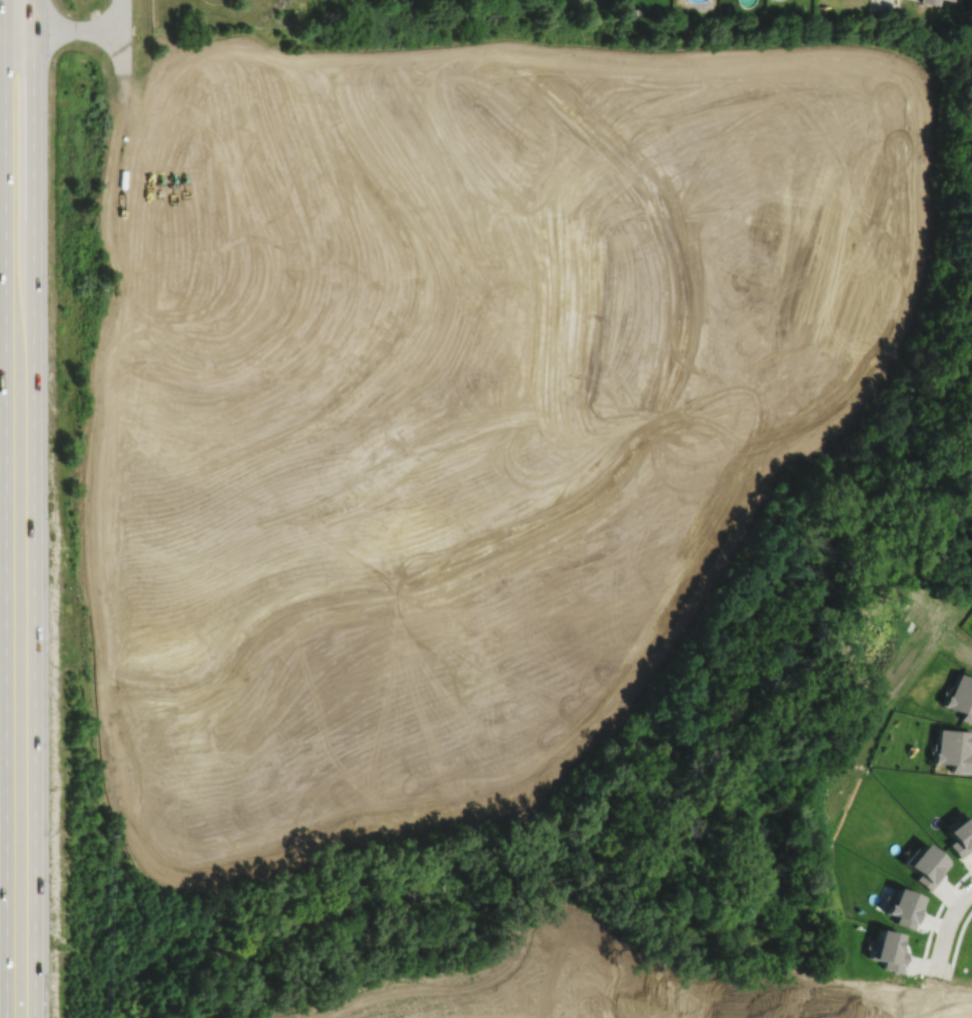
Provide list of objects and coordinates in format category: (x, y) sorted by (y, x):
building: (948, 0)
building: (929, 2)
road: (898, 5)
road: (873, 6)
road: (885, 6)
road: (122, 15)
road: (2, 29)
road: (63, 30)
road: (122, 52)
road: (122, 99)
road: (33, 508)
road: (5, 509)
building: (961, 698)
building: (953, 750)
building: (959, 836)
building: (925, 863)
building: (903, 904)
street lamp: (946, 906)
road: (934, 917)
road: (945, 928)
road: (957, 943)
building: (887, 948)

